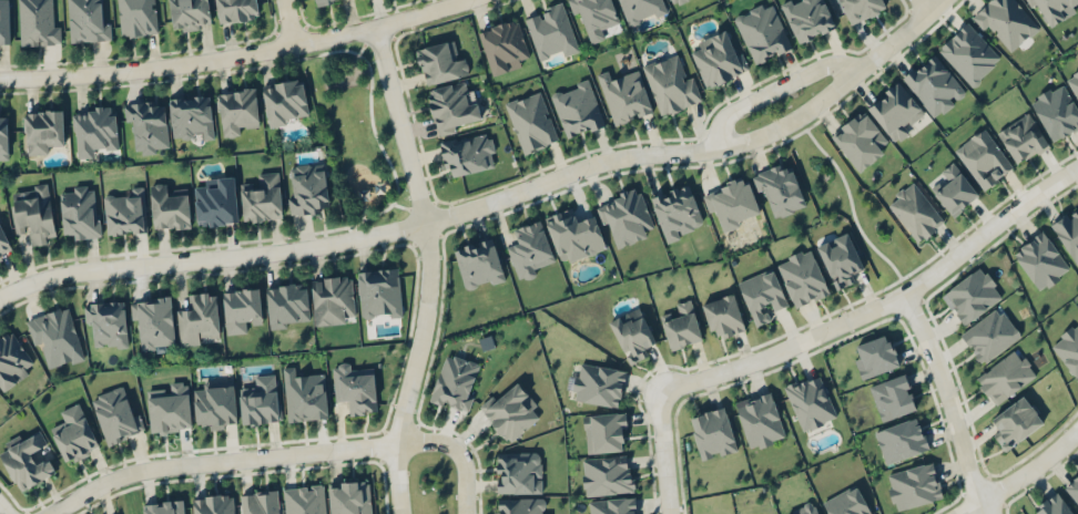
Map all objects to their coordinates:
building: (321, 1)
building: (673, 1)
road: (924, 3)
building: (860, 9)
building: (1054, 9)
building: (235, 10)
building: (640, 10)
building: (189, 13)
building: (593, 16)
building: (136, 18)
building: (807, 18)
building: (87, 20)
building: (1006, 21)
building: (4, 22)
building: (38, 22)
road: (284, 23)
building: (550, 31)
building: (761, 31)
building: (504, 45)
building: (969, 53)
road: (232, 59)
building: (716, 59)
building: (440, 61)
building: (1074, 82)
building: (670, 83)
building: (934, 85)
road: (771, 90)
building: (624, 95)
building: (284, 101)
building: (451, 106)
building: (578, 109)
building: (236, 110)
building: (1056, 110)
building: (895, 111)
building: (190, 116)
road: (399, 122)
building: (531, 122)
building: (148, 123)
building: (94, 127)
building: (42, 128)
building: (3, 135)
building: (1021, 137)
building: (860, 140)
road: (699, 150)
building: (468, 152)
building: (983, 160)
building: (780, 187)
building: (308, 188)
building: (954, 189)
building: (262, 197)
building: (216, 201)
building: (732, 203)
building: (169, 206)
building: (79, 210)
building: (914, 210)
building: (32, 212)
building: (677, 212)
building: (125, 213)
building: (626, 217)
building: (1069, 234)
building: (573, 235)
building: (3, 238)
building: (528, 247)
road: (211, 251)
building: (1, 255)
building: (840, 259)
building: (1040, 260)
building: (479, 264)
building: (801, 277)
building: (378, 292)
building: (760, 292)
building: (972, 294)
building: (332, 298)
road: (884, 302)
building: (287, 304)
building: (240, 308)
building: (722, 315)
building: (199, 317)
building: (106, 321)
building: (153, 322)
building: (681, 326)
building: (631, 333)
building: (989, 333)
building: (55, 335)
building: (1068, 347)
building: (874, 356)
building: (11, 359)
road: (411, 367)
building: (1005, 376)
building: (455, 381)
building: (598, 383)
building: (355, 388)
building: (304, 395)
building: (892, 397)
building: (260, 400)
building: (810, 401)
road: (948, 401)
building: (215, 404)
building: (170, 408)
building: (509, 410)
building: (114, 414)
building: (760, 419)
building: (1015, 421)
building: (604, 431)
building: (711, 432)
building: (74, 433)
building: (901, 440)
road: (456, 453)
road: (665, 454)
road: (218, 459)
building: (26, 460)
building: (518, 472)
building: (607, 474)
road: (1020, 475)
building: (913, 484)
building: (1072, 487)
building: (349, 497)
building: (305, 500)
building: (260, 502)
building: (846, 502)
building: (214, 504)
building: (520, 505)
building: (612, 505)
building: (1051, 506)
building: (164, 507)
road: (3, 508)
building: (803, 508)

